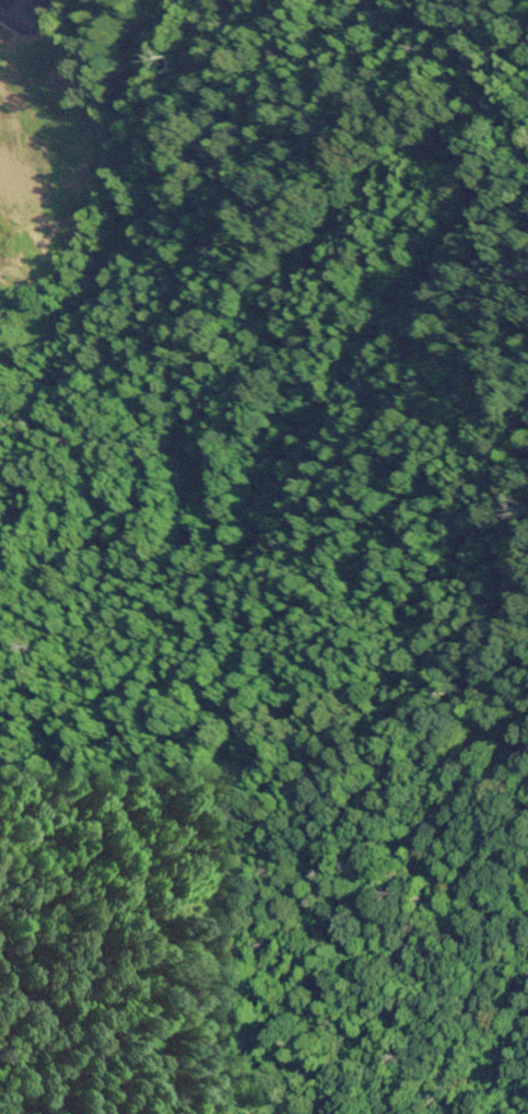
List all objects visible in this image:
road: (456, 457)

